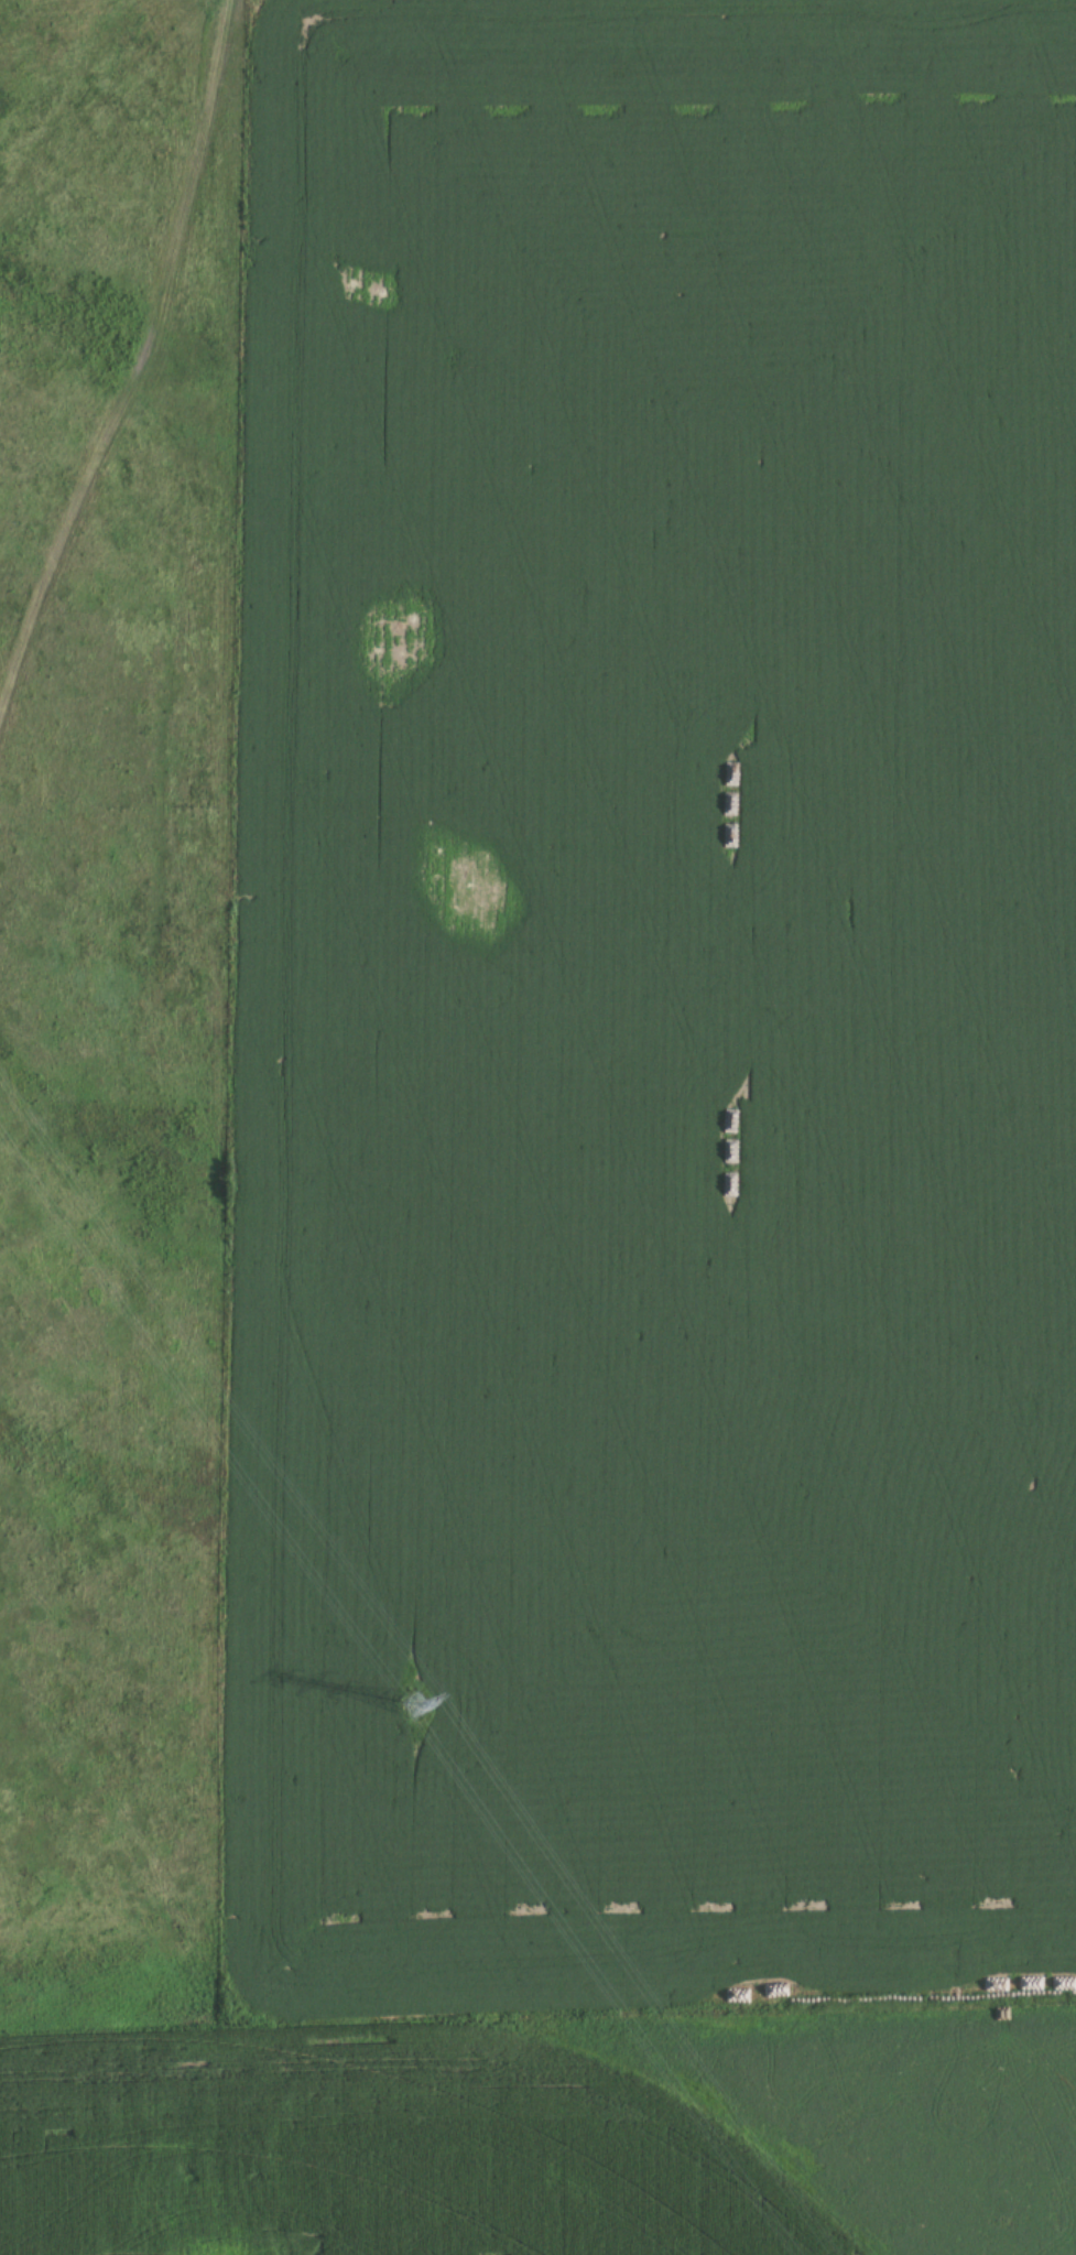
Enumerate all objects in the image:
power tower: (409, 1706)

